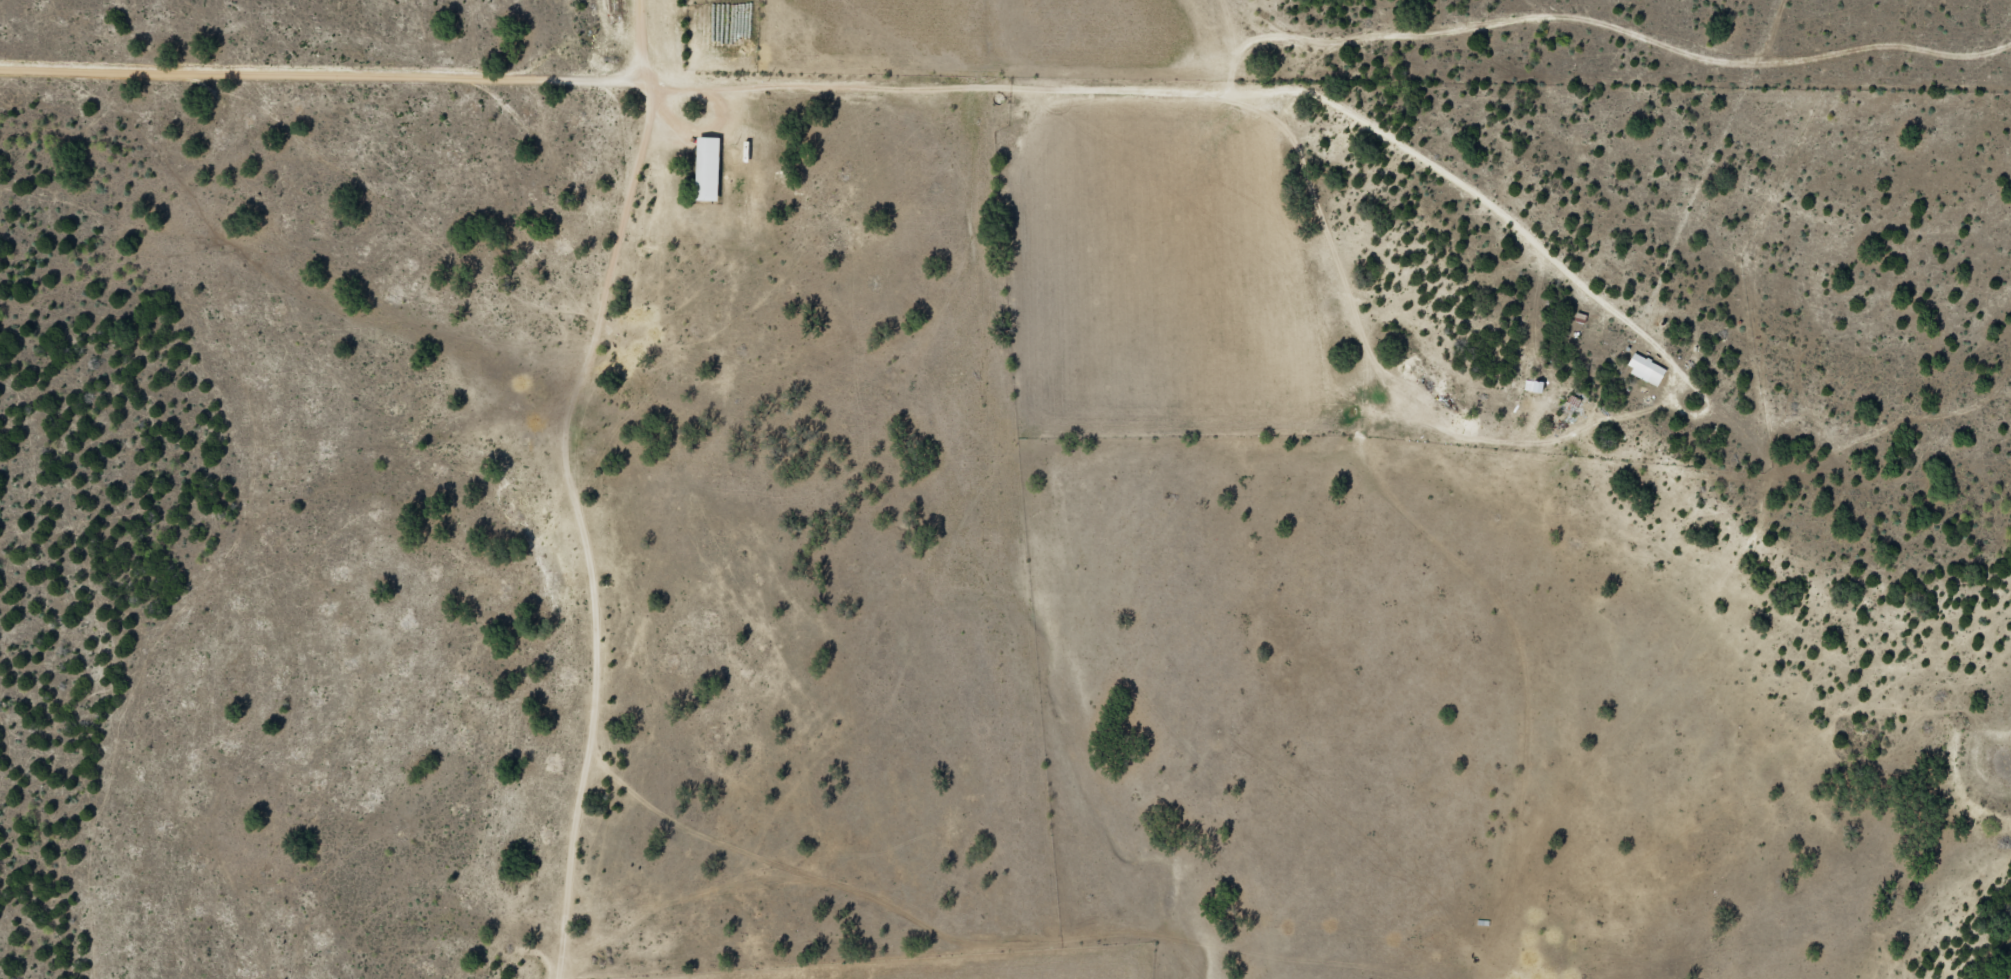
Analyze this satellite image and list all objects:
road: (1606, 25)
road: (323, 74)
road: (1189, 86)
building: (1647, 371)

